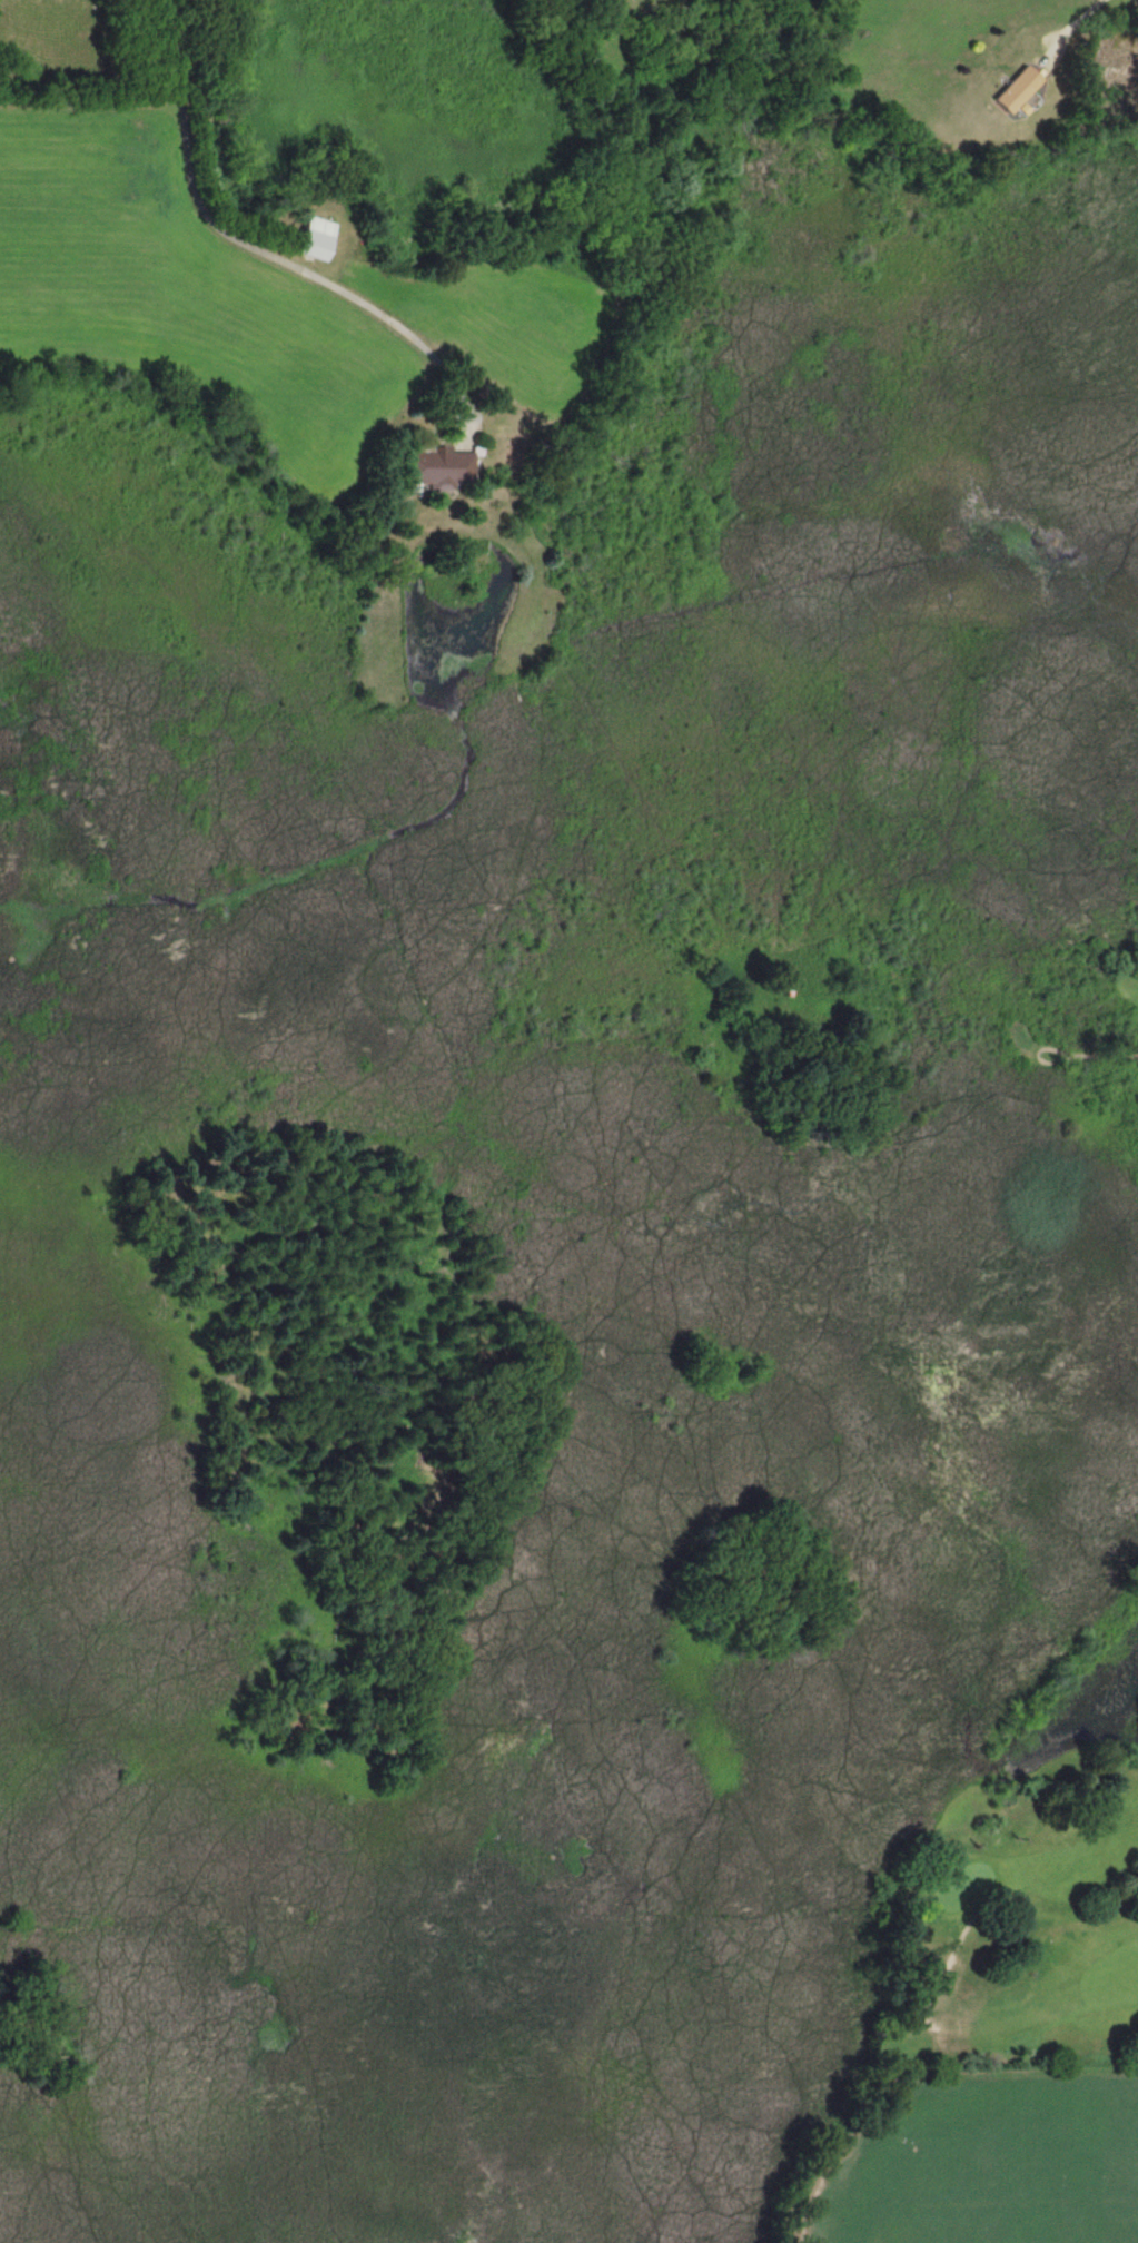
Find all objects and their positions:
road: (1071, 24)
building: (1011, 89)
building: (311, 238)
road: (260, 256)
building: (436, 468)
park: (1069, 1029)
park: (1010, 1873)
park: (962, 1886)

